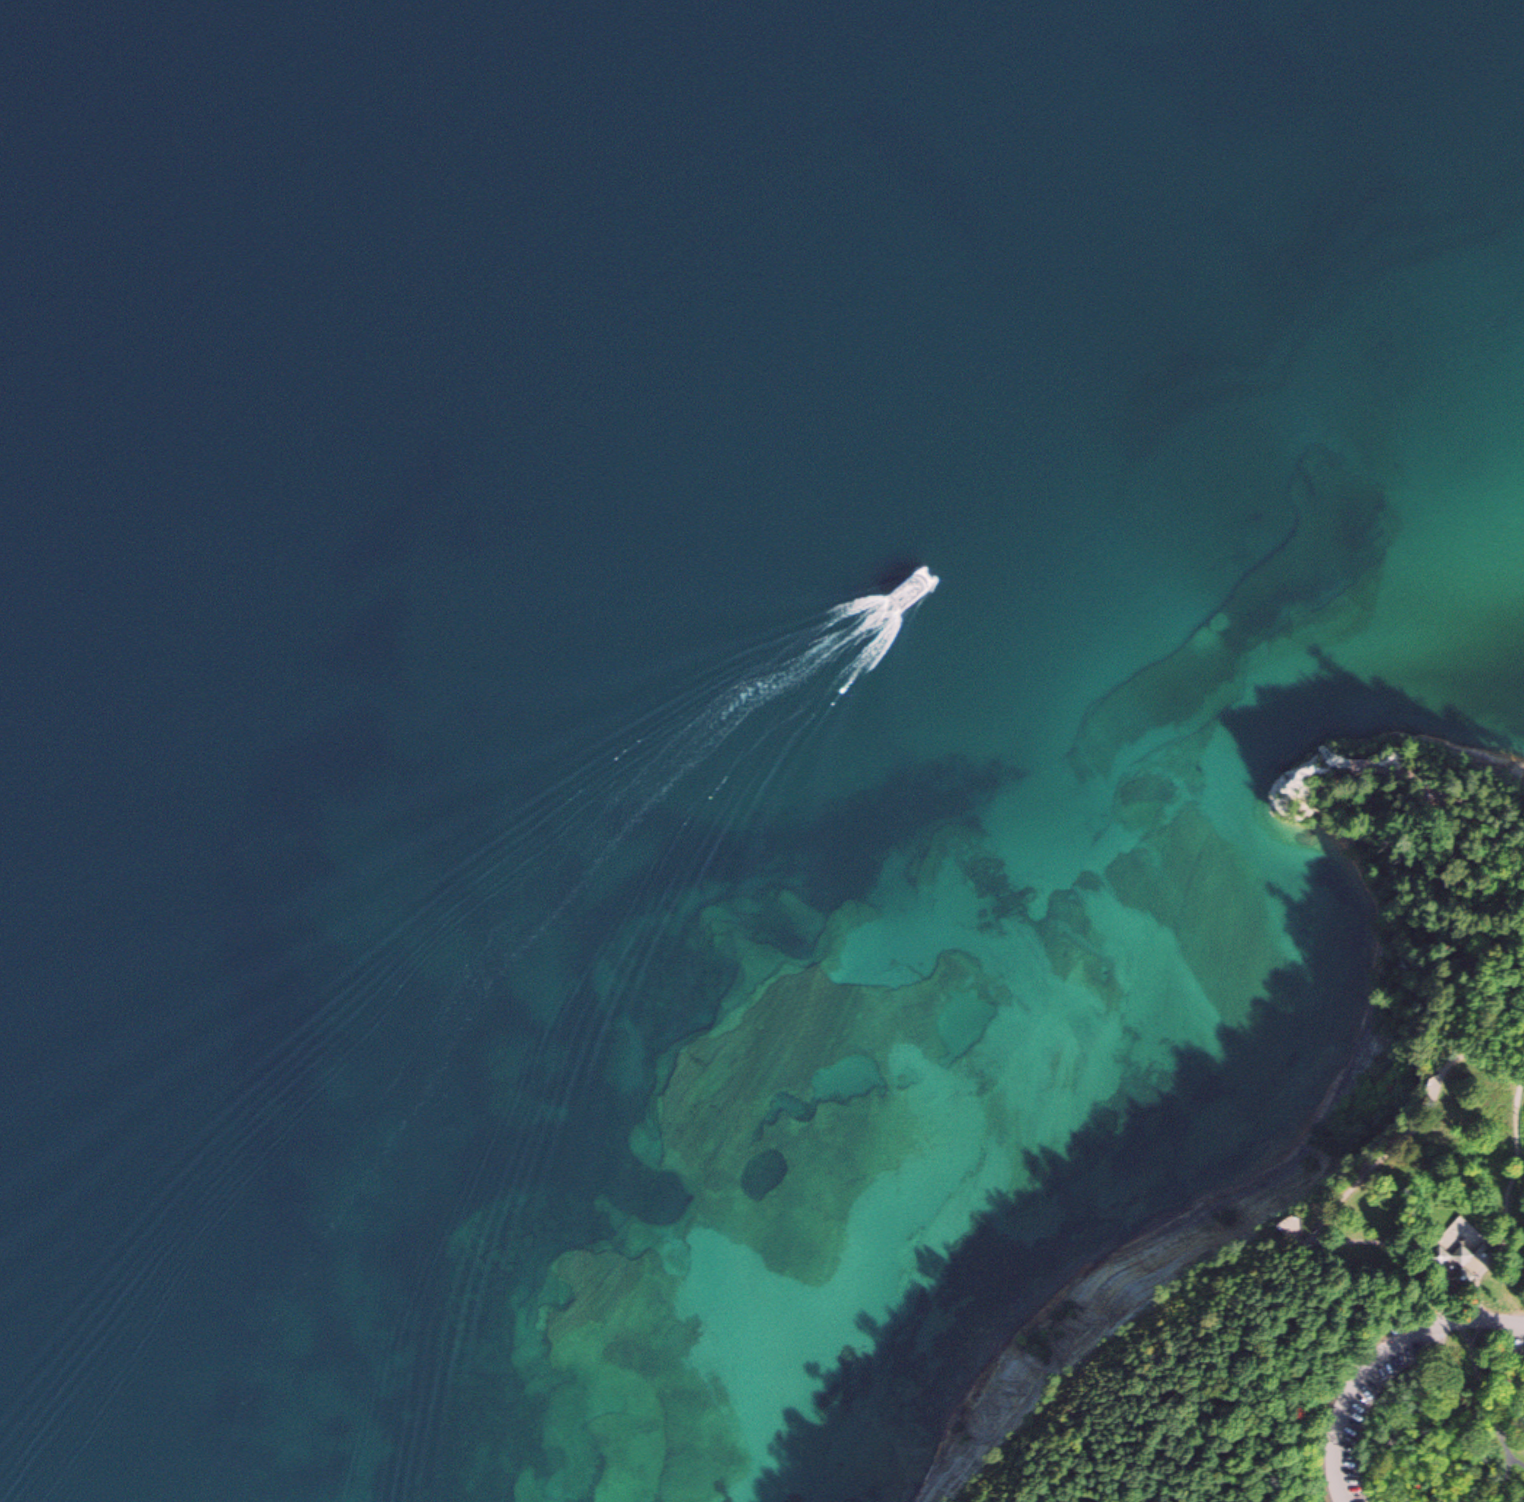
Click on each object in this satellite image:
road: (1436, 794)
road: (1522, 1076)
road: (1371, 1164)
road: (1509, 1192)
building: (1484, 1254)
building: (1441, 1255)
building: (1463, 1255)
road: (1426, 1266)
building: (1463, 1276)
road: (1382, 1364)
road: (1291, 1365)
road: (1482, 1384)
parking lot: (1381, 1405)
road: (1512, 1438)

